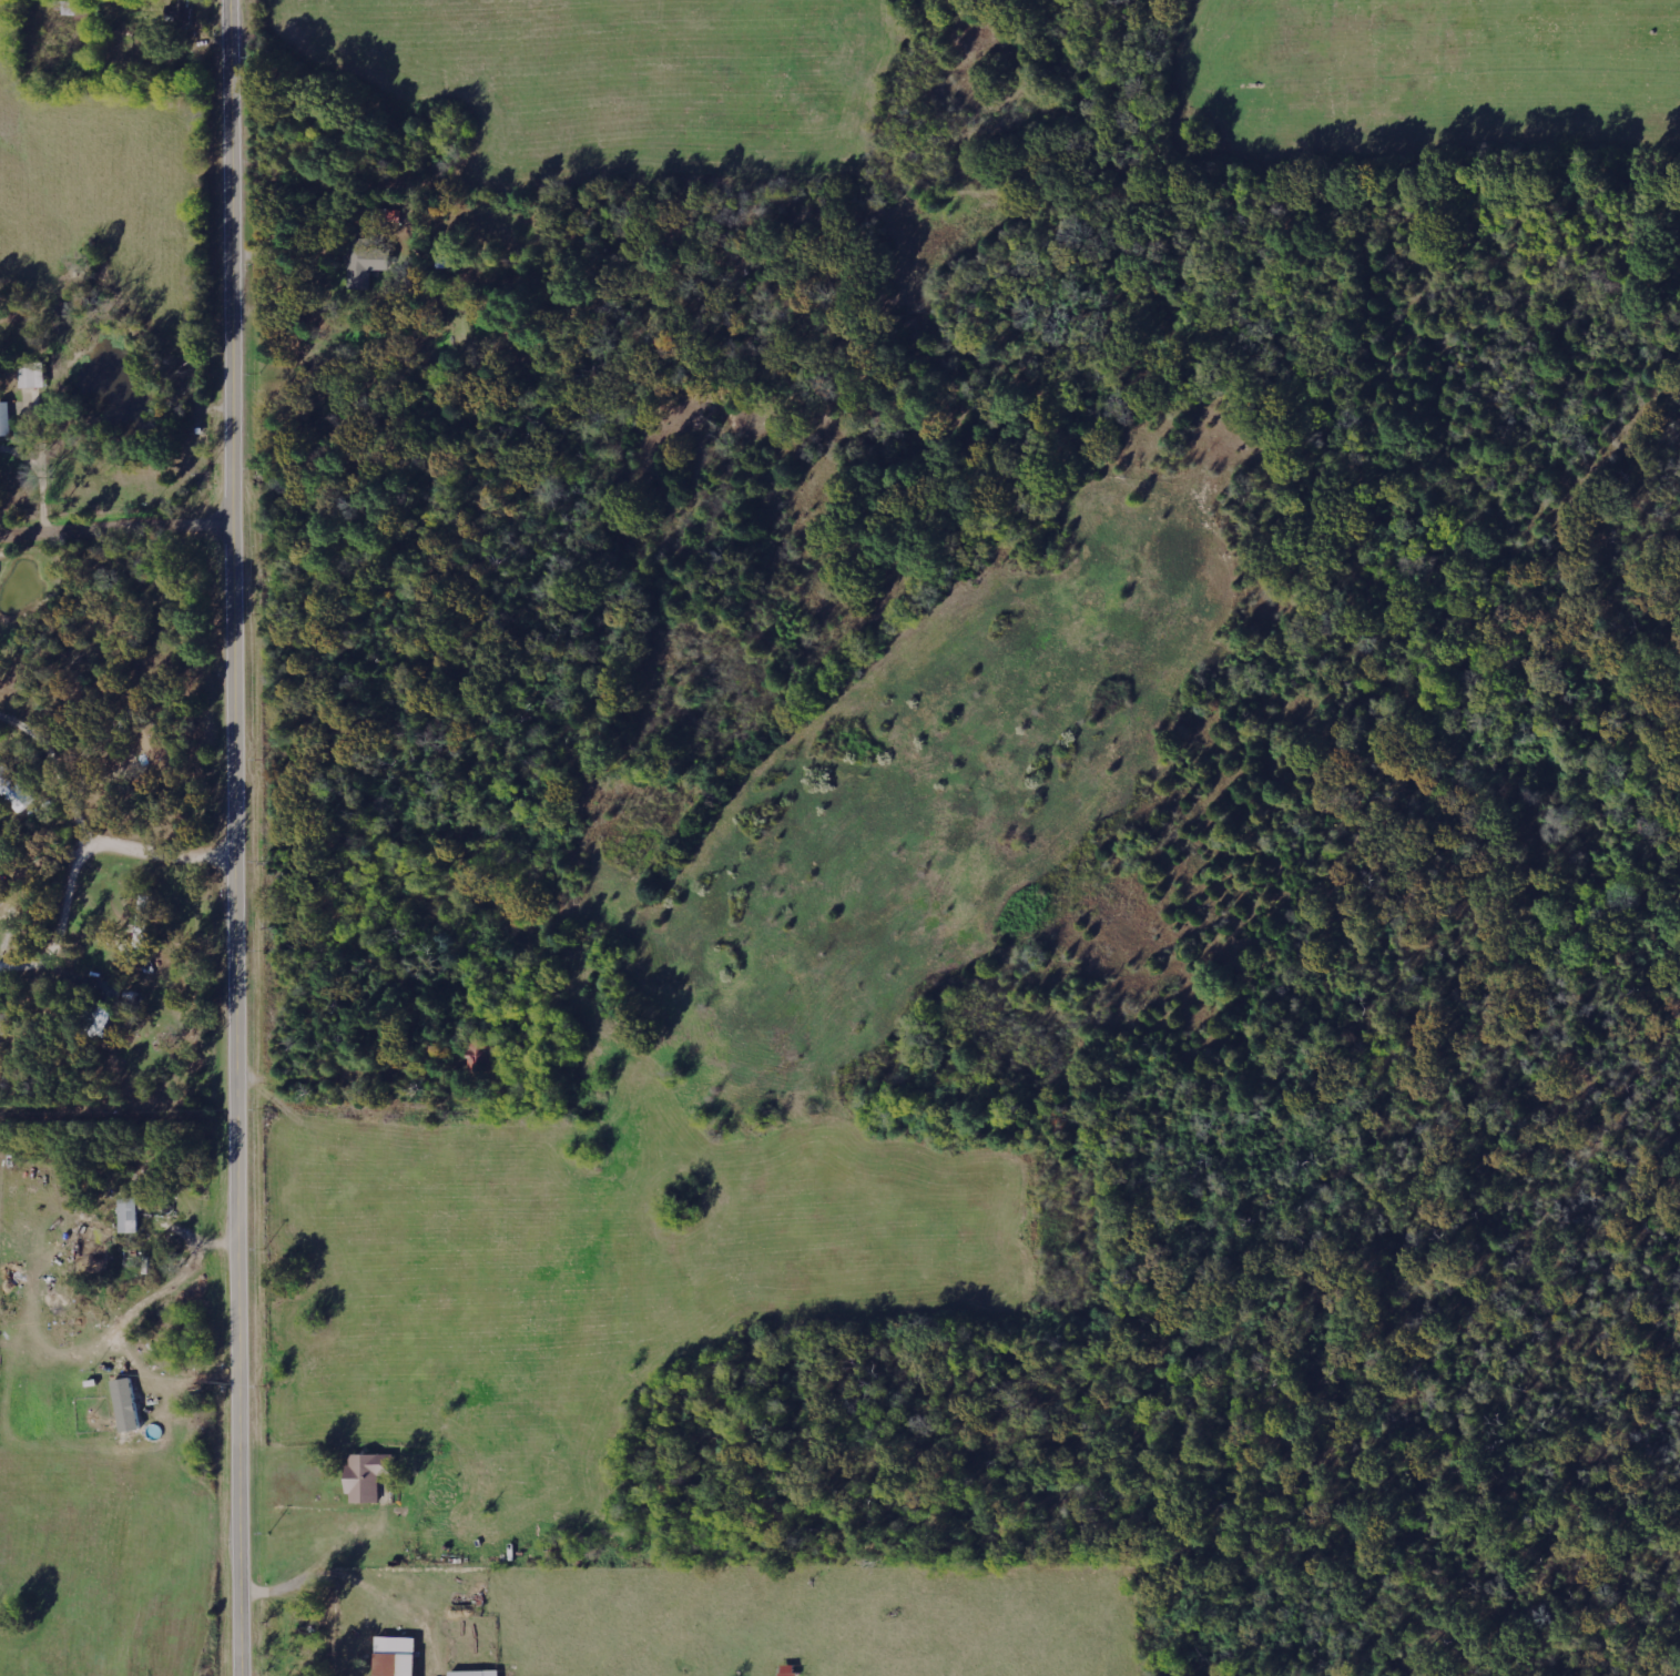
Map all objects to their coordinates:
building: (181, 10)
building: (366, 262)
building: (35, 376)
building: (7, 419)
road: (119, 531)
road: (39, 729)
building: (16, 788)
road: (242, 837)
road: (89, 855)
building: (3, 898)
building: (100, 1022)
building: (7, 1024)
building: (132, 1215)
building: (370, 1476)
building: (399, 1656)
building: (791, 1670)
building: (479, 1673)

